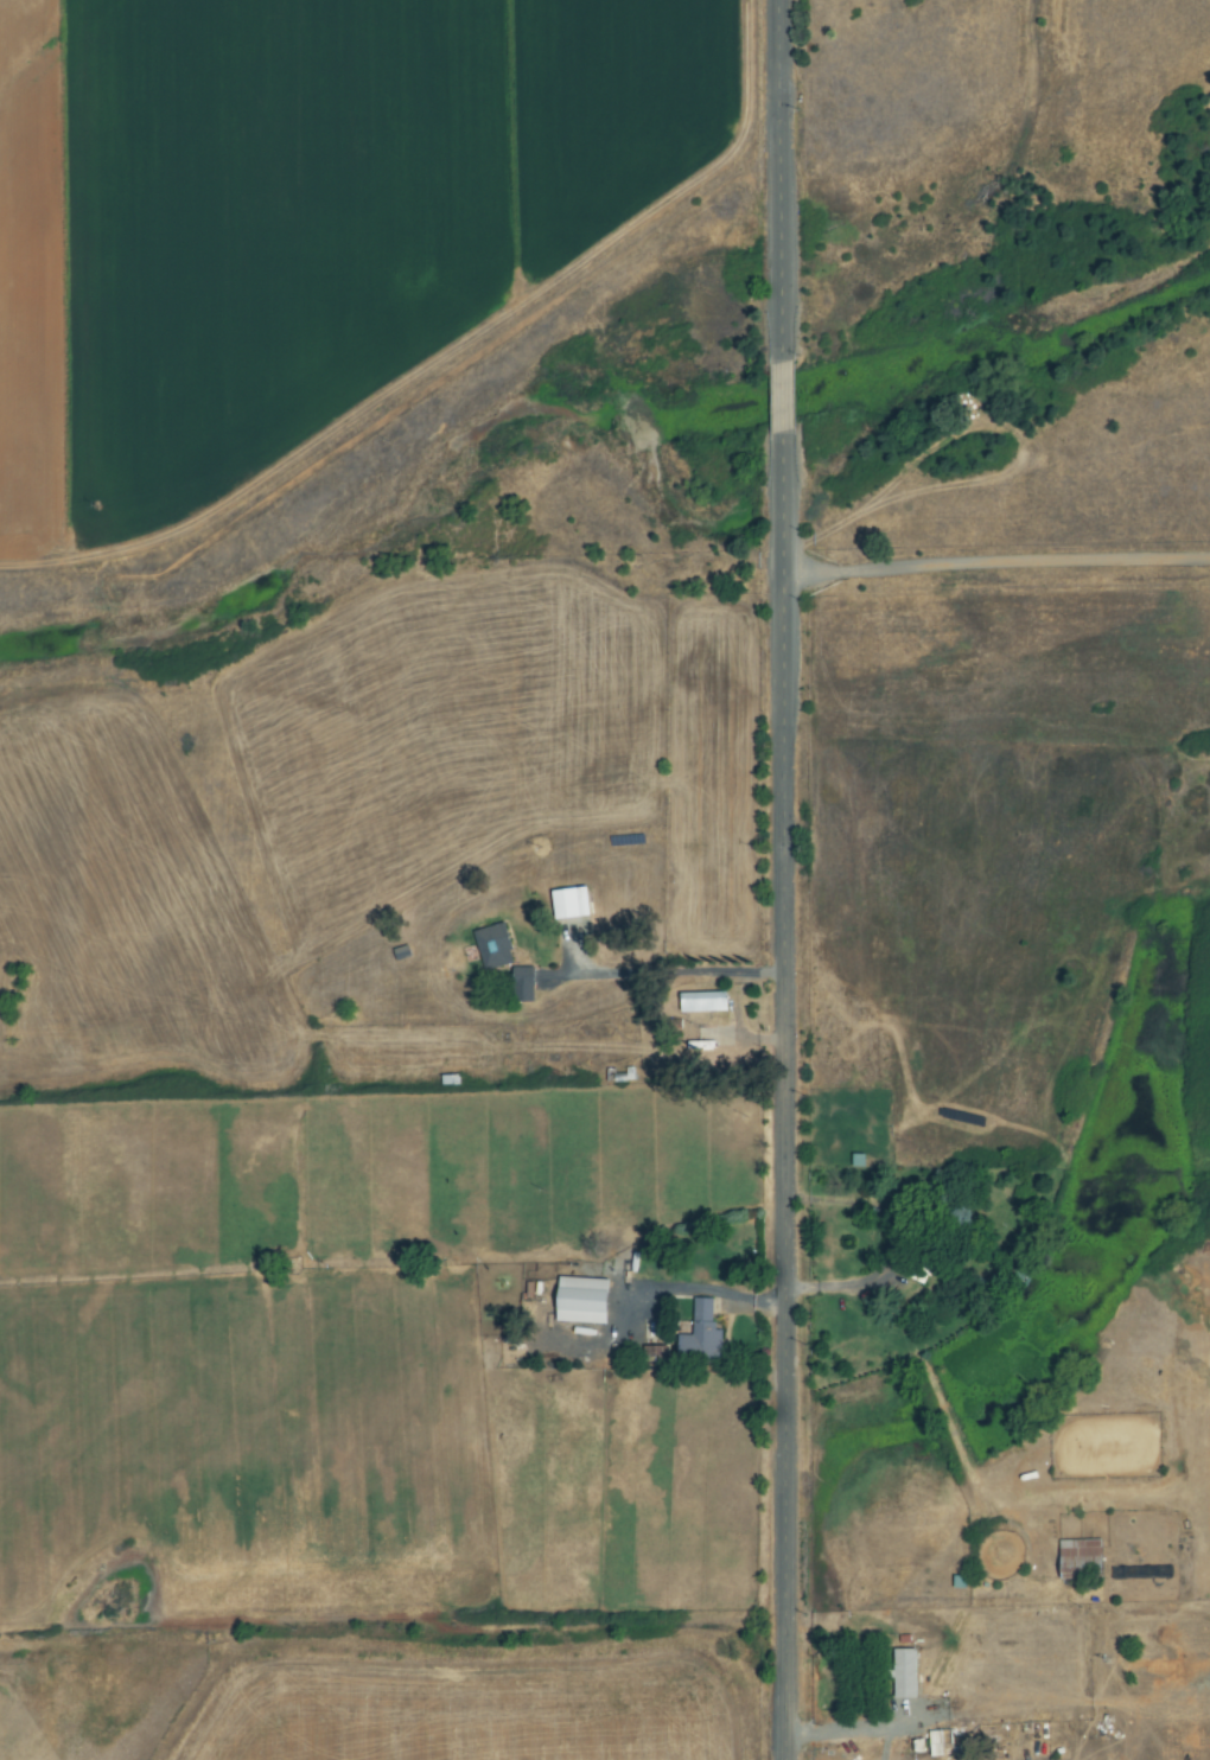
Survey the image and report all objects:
road: (389, 187)
road: (995, 565)
road: (783, 879)
building: (573, 903)
building: (496, 946)
building: (526, 988)
building: (706, 1001)
road: (391, 1009)
building: (586, 1300)
building: (705, 1333)
building: (1082, 1557)
building: (907, 1673)
road: (848, 1732)
building: (938, 1743)

